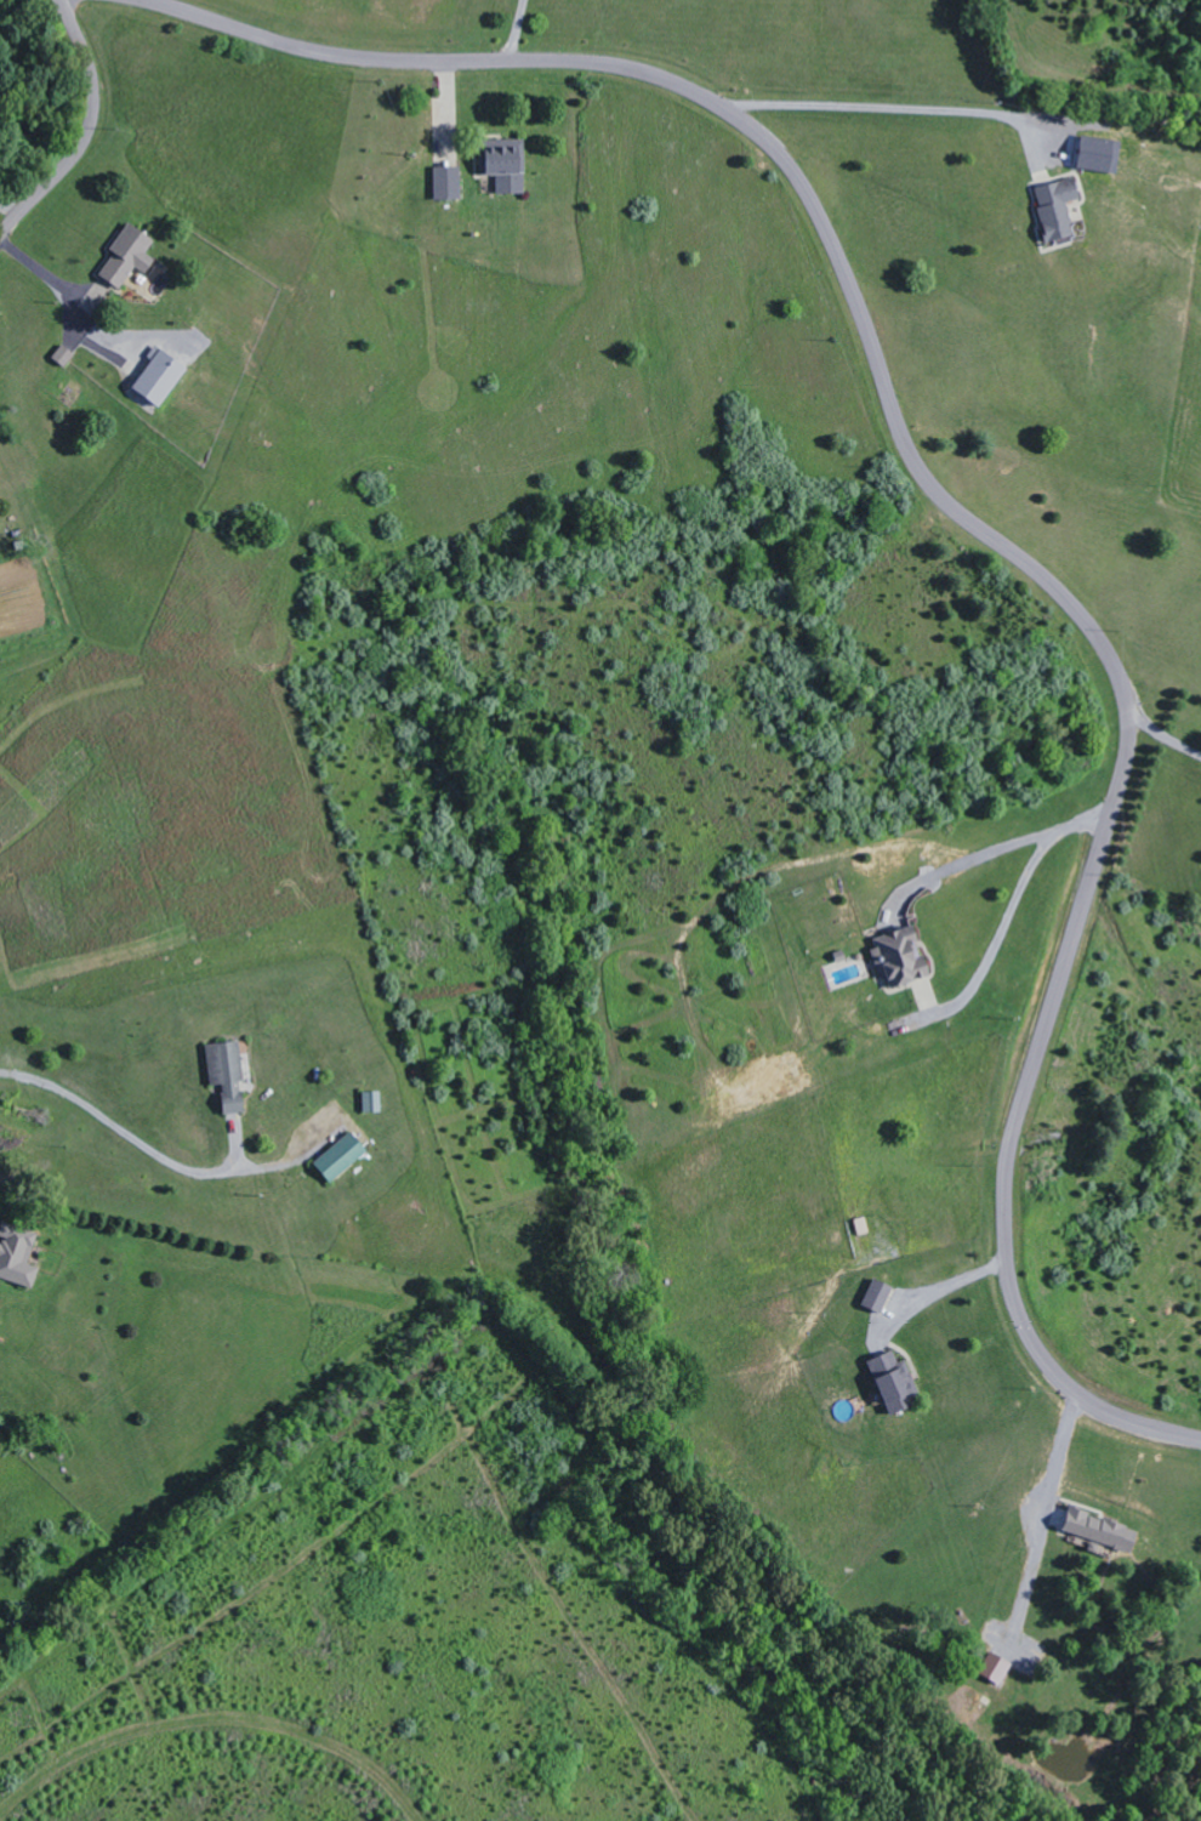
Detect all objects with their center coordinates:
road: (580, 63)
road: (90, 133)
building: (1102, 155)
building: (505, 165)
building: (448, 184)
building: (1059, 209)
building: (130, 257)
building: (161, 377)
road: (1122, 762)
building: (901, 957)
building: (228, 1074)
building: (374, 1102)
building: (342, 1157)
building: (864, 1227)
building: (18, 1256)
building: (880, 1296)
building: (897, 1383)
building: (1102, 1531)
building: (996, 1668)

